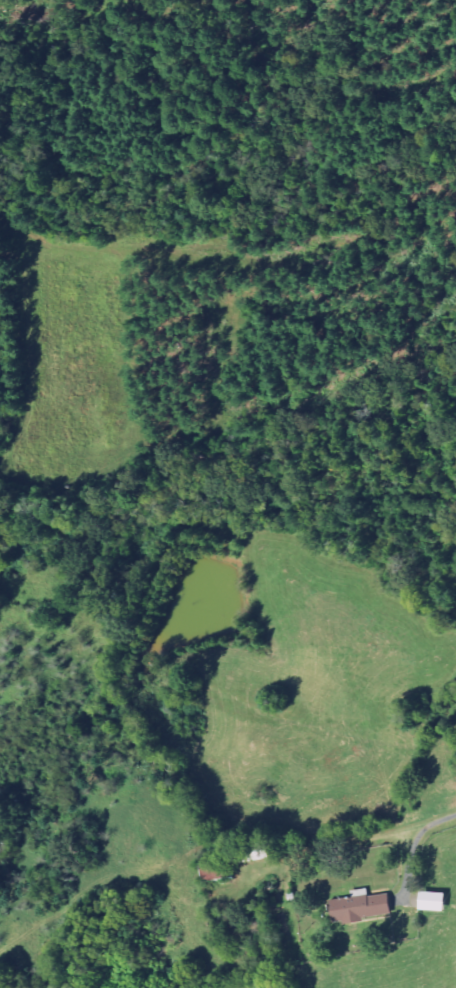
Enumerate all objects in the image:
road: (414, 850)
building: (220, 871)
building: (364, 905)

